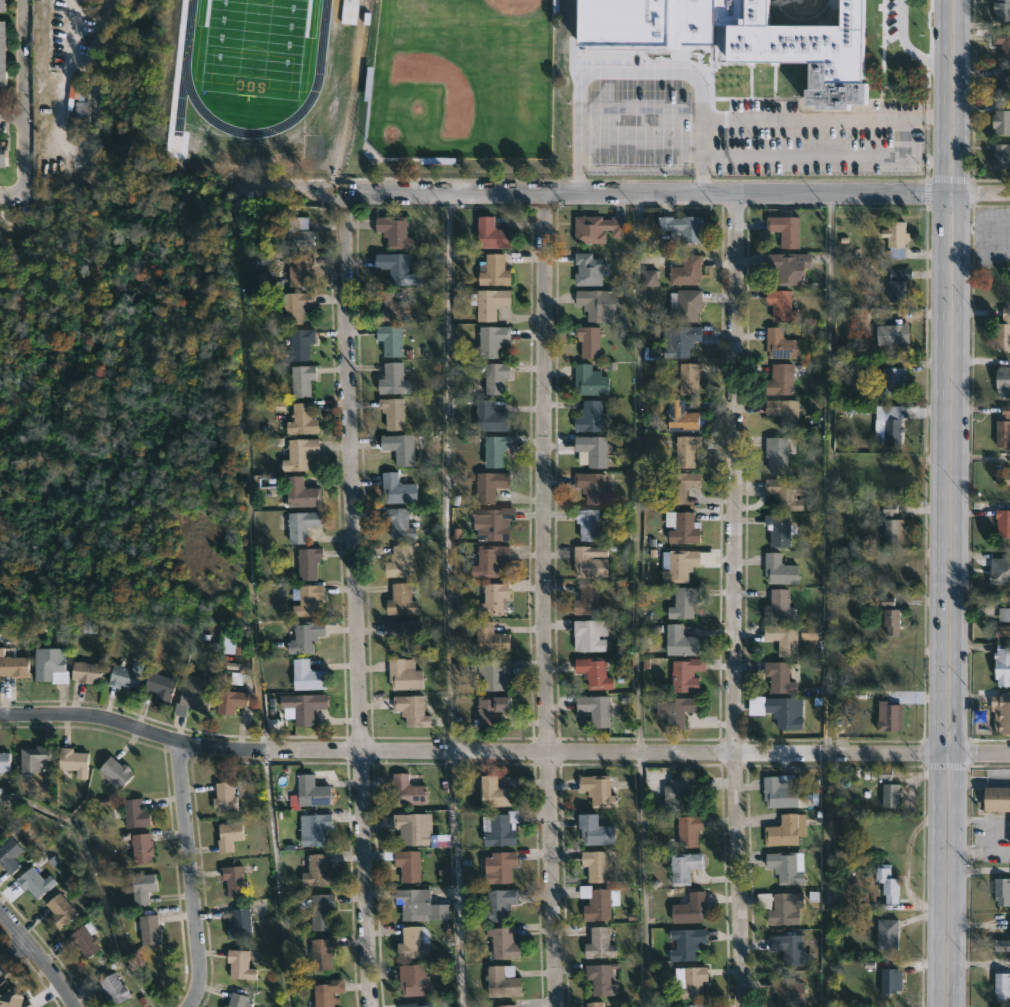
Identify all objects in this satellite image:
building: (4, 5)
building: (1001, 13)
building: (739, 39)
road: (907, 40)
building: (1002, 42)
park: (252, 46)
building: (4, 55)
park: (462, 78)
road: (938, 79)
building: (1001, 80)
road: (955, 98)
road: (20, 109)
building: (78, 112)
road: (10, 120)
building: (1001, 121)
parking lot: (719, 124)
road: (699, 140)
building: (4, 155)
building: (1001, 156)
building: (606, 158)
building: (666, 158)
building: (637, 159)
road: (938, 178)
road: (279, 191)
road: (627, 193)
road: (946, 196)
road: (982, 196)
building: (597, 227)
building: (681, 228)
building: (782, 230)
building: (392, 231)
building: (490, 232)
building: (895, 233)
building: (296, 234)
building: (788, 267)
building: (399, 269)
building: (493, 269)
building: (587, 269)
building: (686, 270)
building: (300, 271)
building: (896, 286)
building: (489, 302)
building: (595, 303)
building: (292, 305)
building: (684, 305)
building: (780, 305)
building: (389, 306)
building: (1003, 331)
building: (897, 335)
building: (389, 339)
building: (490, 341)
building: (591, 341)
building: (683, 341)
building: (299, 343)
building: (784, 345)
building: (498, 378)
building: (688, 378)
building: (300, 379)
building: (894, 379)
building: (395, 380)
building: (589, 380)
building: (780, 380)
building: (1002, 382)
building: (783, 410)
building: (395, 413)
building: (588, 416)
building: (489, 417)
building: (682, 417)
park: (121, 418)
building: (301, 420)
building: (1003, 429)
building: (892, 431)
building: (402, 448)
building: (591, 449)
building: (494, 450)
building: (685, 451)
building: (778, 453)
building: (298, 454)
road: (446, 472)
road: (829, 474)
building: (1002, 478)
building: (488, 486)
building: (682, 486)
building: (592, 487)
building: (399, 489)
building: (895, 489)
building: (300, 492)
building: (786, 493)
building: (1002, 522)
building: (494, 523)
building: (587, 523)
building: (300, 524)
building: (398, 524)
building: (681, 527)
building: (891, 527)
building: (778, 529)
building: (488, 561)
building: (398, 562)
building: (307, 563)
building: (587, 564)
building: (677, 564)
building: (778, 569)
building: (893, 573)
building: (1003, 576)
road: (354, 599)
building: (492, 599)
building: (307, 600)
road: (545, 600)
road: (633, 600)
building: (400, 601)
building: (588, 601)
road: (736, 601)
road: (935, 601)
road: (954, 601)
building: (686, 603)
building: (779, 606)
building: (1003, 614)
building: (891, 621)
building: (1002, 631)
building: (407, 634)
building: (590, 634)
building: (304, 636)
building: (790, 638)
building: (489, 639)
building: (680, 641)
building: (48, 665)
building: (1001, 665)
building: (13, 666)
building: (890, 667)
building: (84, 671)
building: (594, 672)
building: (491, 673)
building: (123, 675)
building: (304, 675)
building: (406, 675)
building: (687, 675)
building: (776, 678)
building: (160, 686)
building: (191, 696)
building: (229, 701)
building: (301, 708)
building: (594, 709)
building: (414, 711)
building: (489, 711)
building: (679, 711)
building: (781, 712)
building: (1001, 713)
building: (886, 717)
road: (502, 751)
building: (33, 758)
building: (3, 761)
building: (72, 761)
building: (114, 773)
building: (409, 790)
building: (598, 791)
building: (311, 792)
building: (782, 792)
building: (494, 793)
building: (679, 795)
building: (890, 795)
building: (223, 798)
building: (996, 801)
building: (137, 815)
building: (312, 829)
building: (411, 829)
building: (499, 829)
building: (594, 830)
building: (783, 830)
building: (689, 831)
building: (227, 836)
building: (141, 849)
road: (981, 854)
building: (8, 855)
building: (403, 863)
building: (598, 866)
building: (786, 866)
building: (499, 867)
building: (684, 867)
building: (316, 872)
road: (192, 878)
road: (826, 879)
building: (237, 880)
building: (33, 883)
building: (887, 883)
building: (140, 888)
building: (1002, 892)
building: (597, 903)
building: (422, 905)
building: (495, 905)
building: (689, 908)
building: (59, 911)
building: (782, 911)
building: (319, 912)
building: (236, 923)
building: (149, 929)
building: (885, 934)
building: (86, 940)
building: (412, 943)
building: (685, 943)
building: (502, 944)
building: (602, 944)
building: (1002, 945)
building: (786, 947)
road: (12, 953)
building: (321, 954)
road: (38, 958)
building: (239, 964)
building: (600, 979)
building: (689, 980)
building: (890, 980)
building: (414, 981)
building: (502, 982)
building: (999, 984)
building: (115, 989)
building: (785, 991)
building: (326, 992)
building: (236, 999)
building: (420, 1004)
building: (598, 1004)
building: (694, 1005)
building: (507, 1006)

